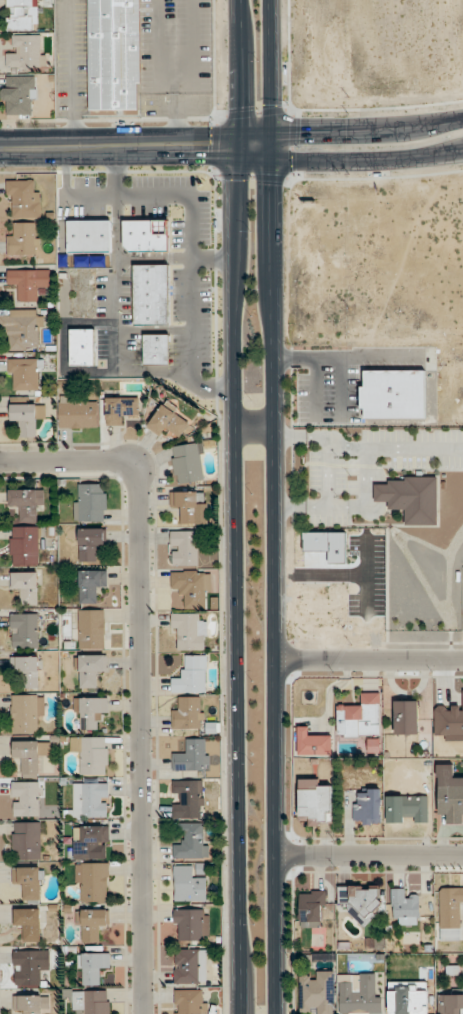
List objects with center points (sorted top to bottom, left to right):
building: (22, 15)
building: (25, 52)
building: (113, 54)
road: (240, 73)
building: (18, 95)
traffic signals: (241, 111)
road: (430, 125)
traffic signals: (297, 132)
road: (317, 132)
road: (120, 147)
traffic signals: (208, 147)
road: (350, 162)
traffic signals: (272, 182)
building: (23, 199)
road: (63, 203)
road: (191, 225)
building: (145, 235)
building: (89, 236)
building: (29, 241)
road: (117, 259)
road: (176, 259)
building: (29, 283)
building: (151, 295)
road: (90, 321)
building: (23, 329)
road: (154, 330)
building: (81, 347)
building: (156, 349)
road: (348, 357)
road: (102, 372)
building: (23, 374)
road: (314, 390)
road: (341, 390)
building: (392, 394)
building: (120, 409)
building: (77, 412)
building: (27, 417)
building: (168, 421)
road: (333, 424)
road: (254, 427)
road: (292, 442)
road: (366, 448)
building: (188, 463)
road: (327, 471)
road: (380, 488)
building: (411, 498)
building: (90, 502)
building: (27, 504)
building: (187, 506)
road: (276, 506)
road: (349, 506)
building: (90, 543)
building: (24, 545)
building: (184, 548)
road: (235, 580)
building: (91, 585)
building: (25, 586)
building: (191, 587)
building: (91, 629)
building: (24, 630)
building: (189, 630)
road: (370, 660)
building: (90, 669)
road: (141, 670)
building: (27, 671)
building: (190, 675)
building: (90, 712)
building: (188, 712)
building: (26, 713)
building: (360, 717)
building: (406, 717)
building: (313, 743)
building: (90, 754)
building: (30, 755)
building: (191, 756)
building: (449, 792)
building: (25, 798)
building: (187, 799)
building: (89, 800)
building: (314, 802)
building: (366, 806)
building: (407, 809)
building: (26, 840)
building: (89, 840)
building: (190, 841)
road: (370, 856)
building: (29, 883)
building: (92, 883)
building: (188, 884)
building: (360, 901)
building: (404, 907)
building: (311, 909)
building: (450, 913)
building: (28, 923)
building: (92, 924)
building: (191, 924)
building: (29, 966)
building: (191, 966)
building: (92, 967)
building: (316, 992)
building: (360, 994)
building: (407, 997)
building: (89, 1001)
building: (190, 1001)
building: (31, 1004)
building: (449, 1004)

